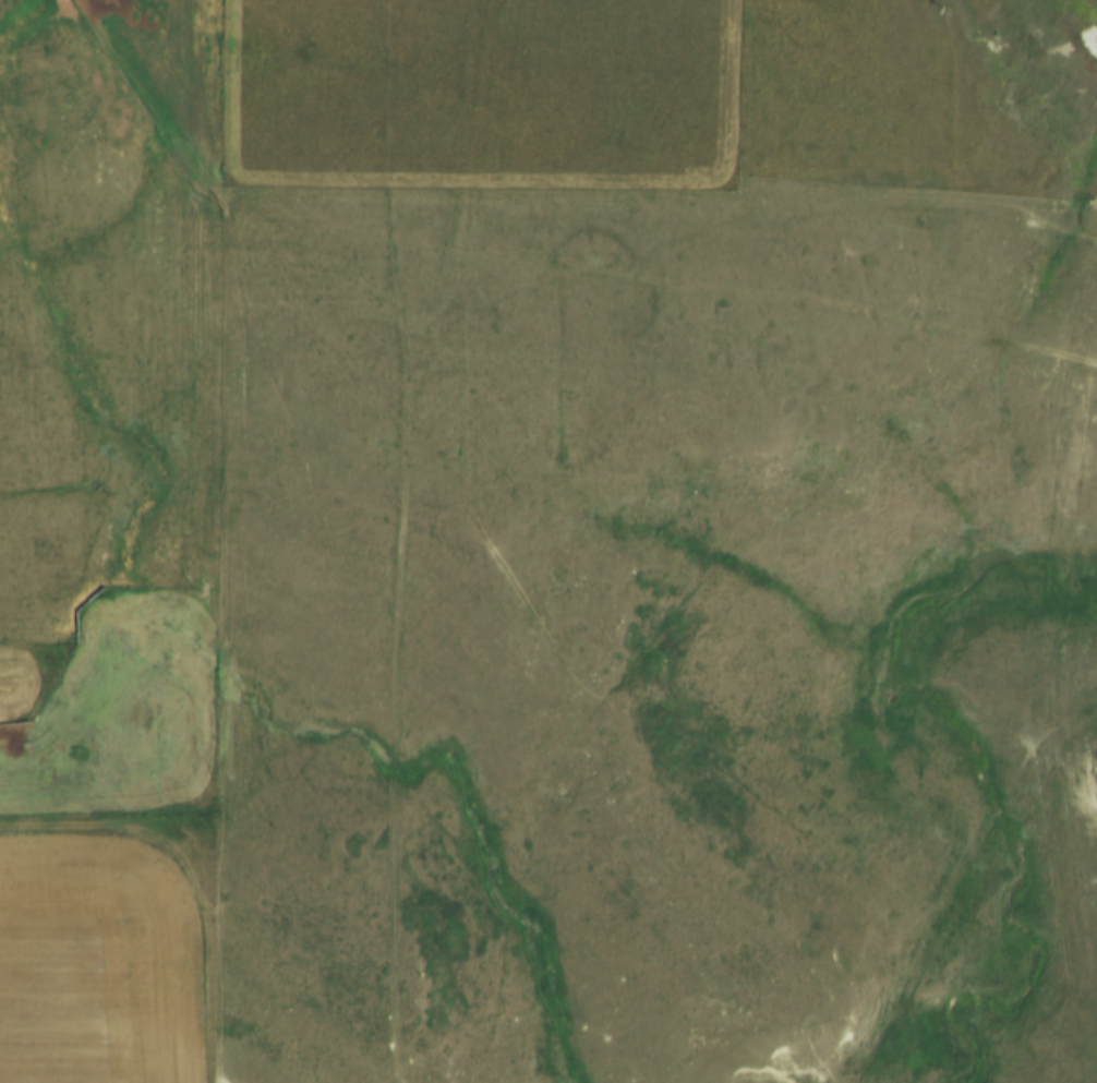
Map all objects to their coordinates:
building: (1095, 40)
road: (554, 280)

